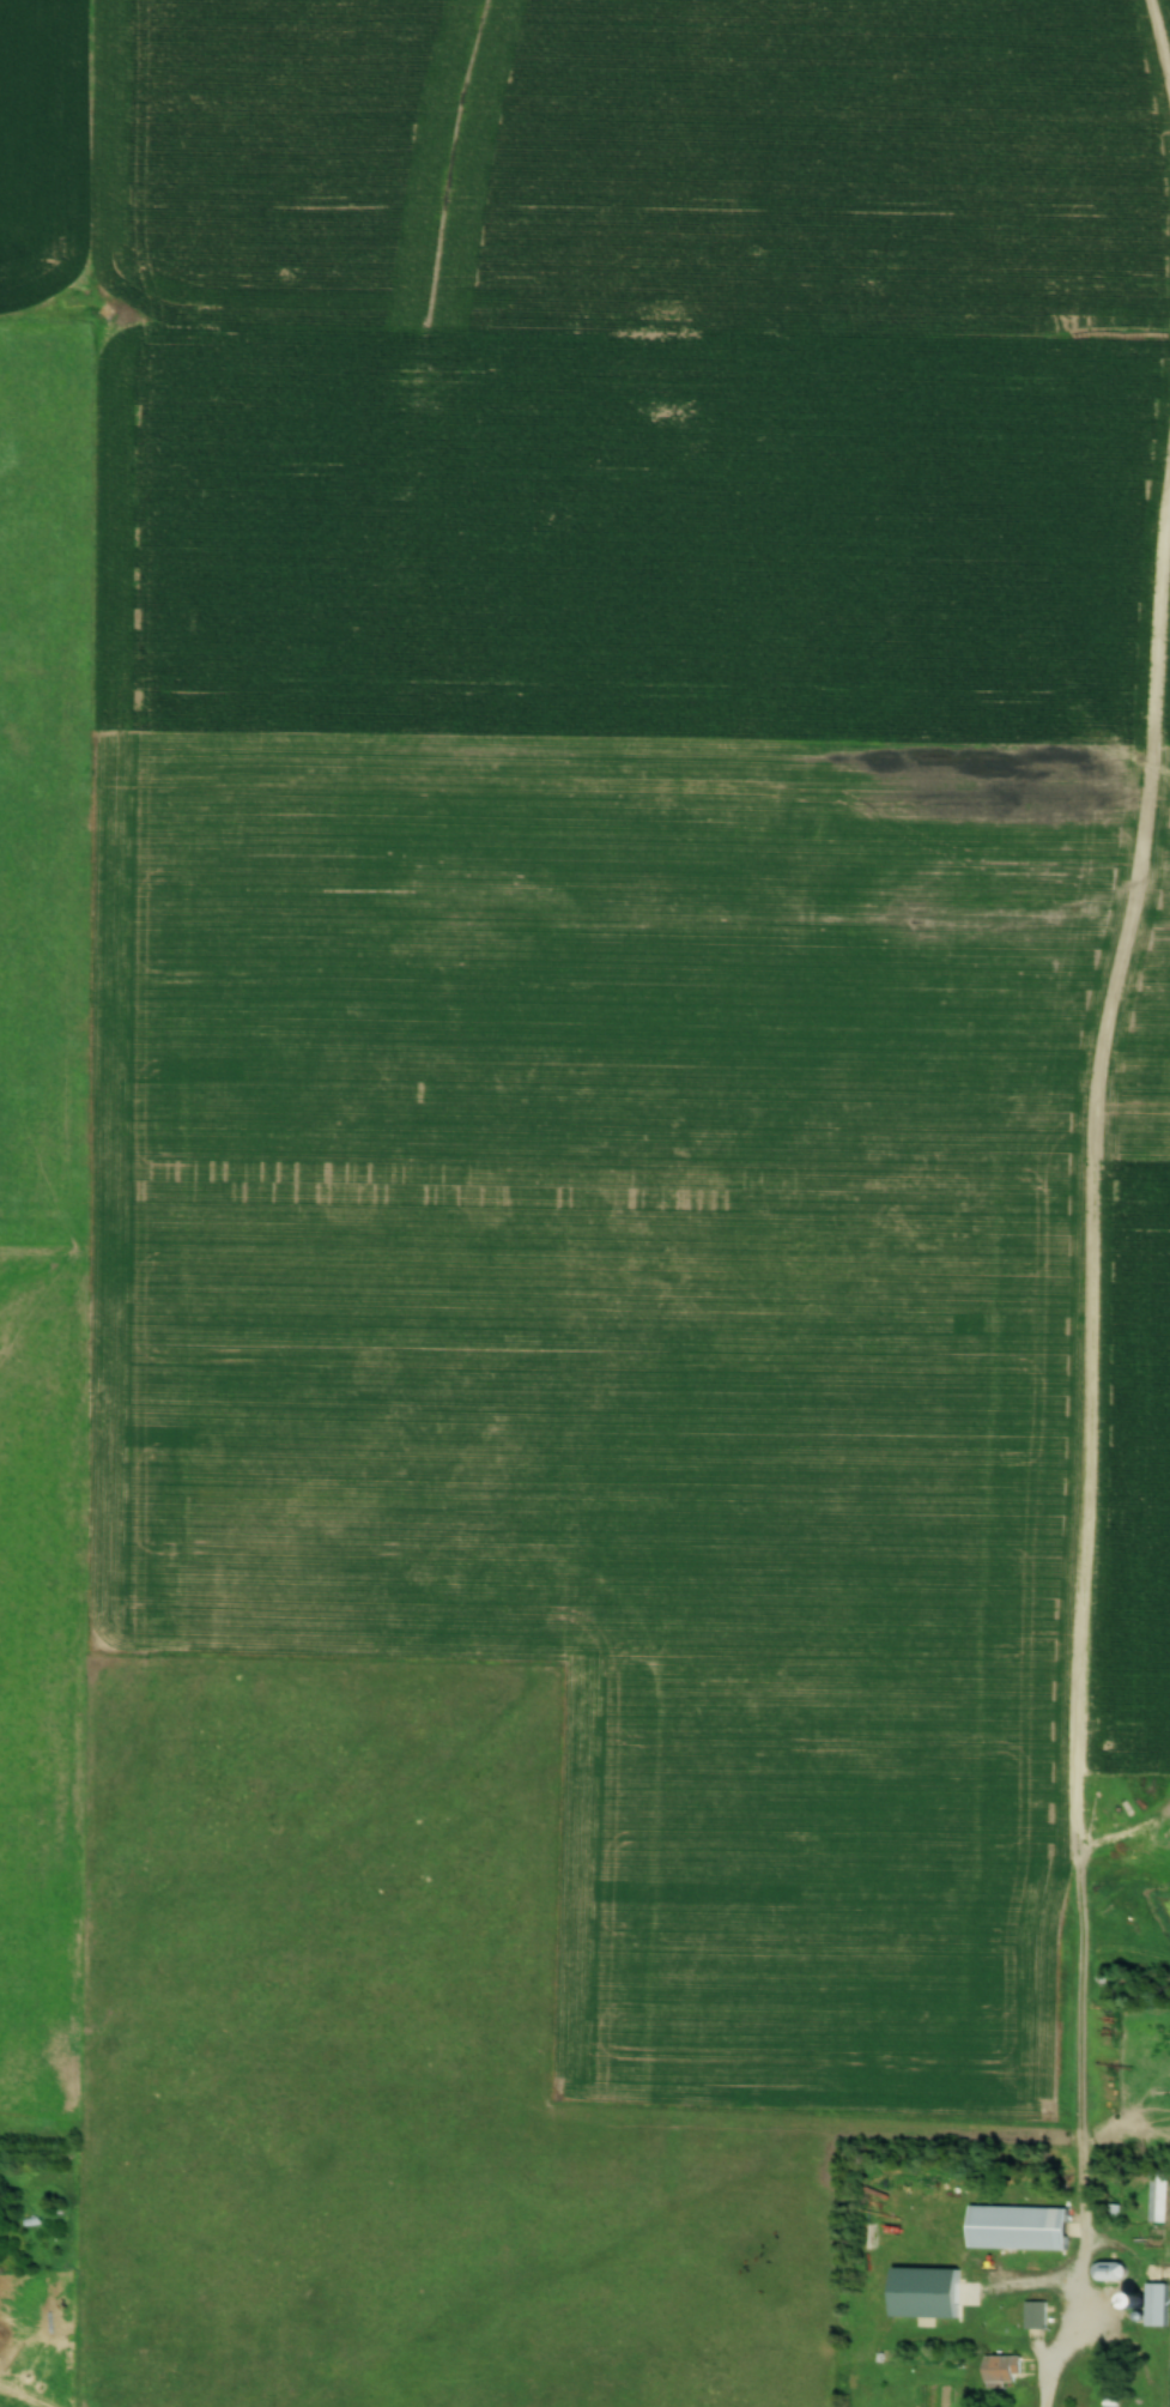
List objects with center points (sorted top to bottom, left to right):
building: (1158, 2199)
building: (1114, 2212)
building: (1017, 2227)
building: (1108, 2272)
building: (932, 2292)
building: (1156, 2305)
building: (1036, 2316)
road: (1055, 2349)
building: (1001, 2370)

